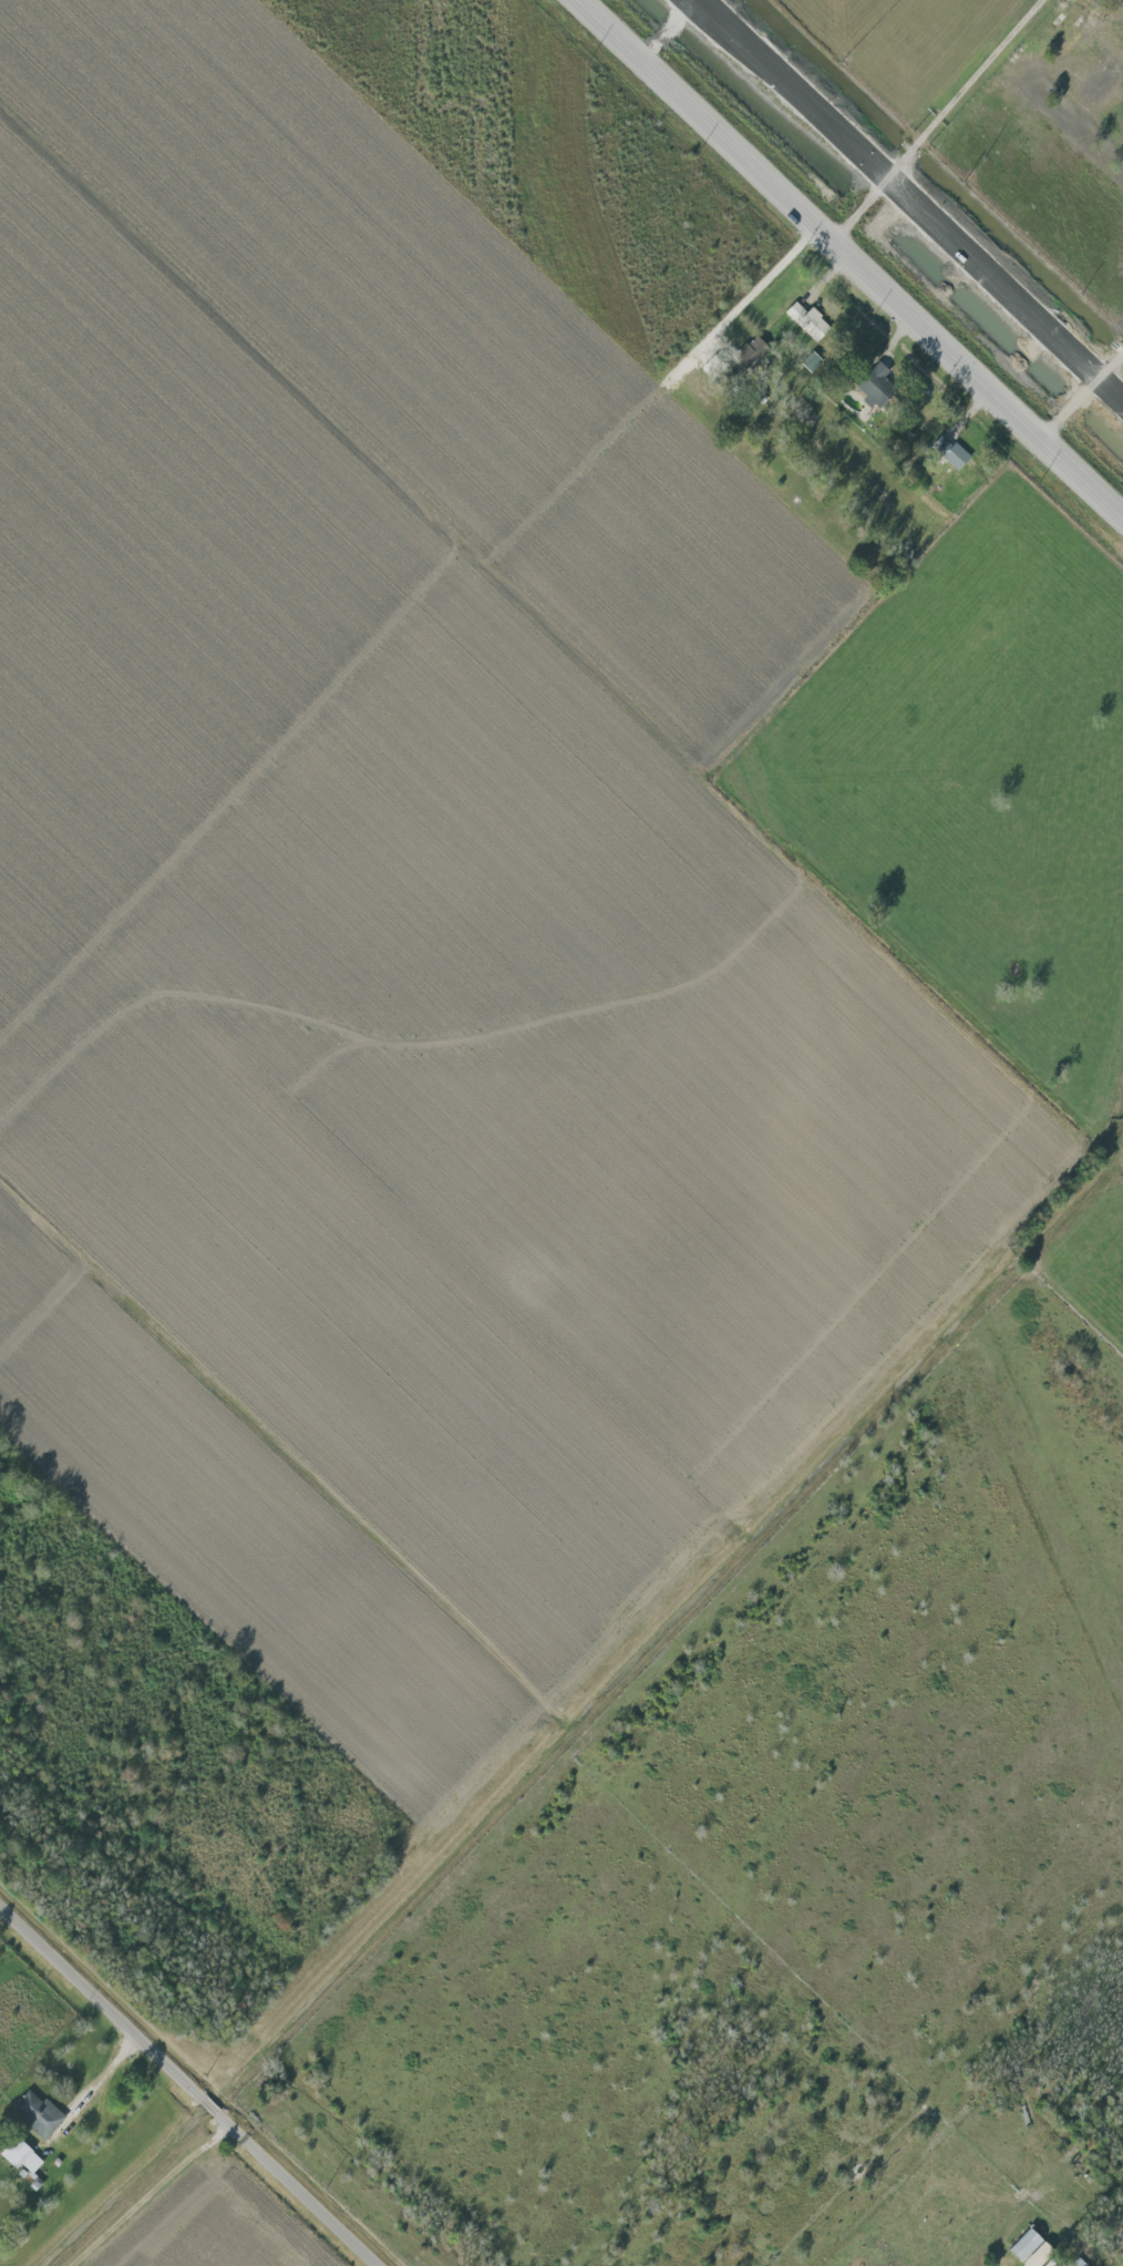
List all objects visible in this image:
road: (935, 124)
road: (844, 265)
road: (753, 290)
building: (805, 321)
building: (746, 350)
building: (808, 362)
building: (872, 383)
road: (1078, 398)
building: (949, 453)
road: (104, 2073)
road: (192, 2082)
building: (34, 2114)
building: (20, 2160)
building: (1028, 2248)

